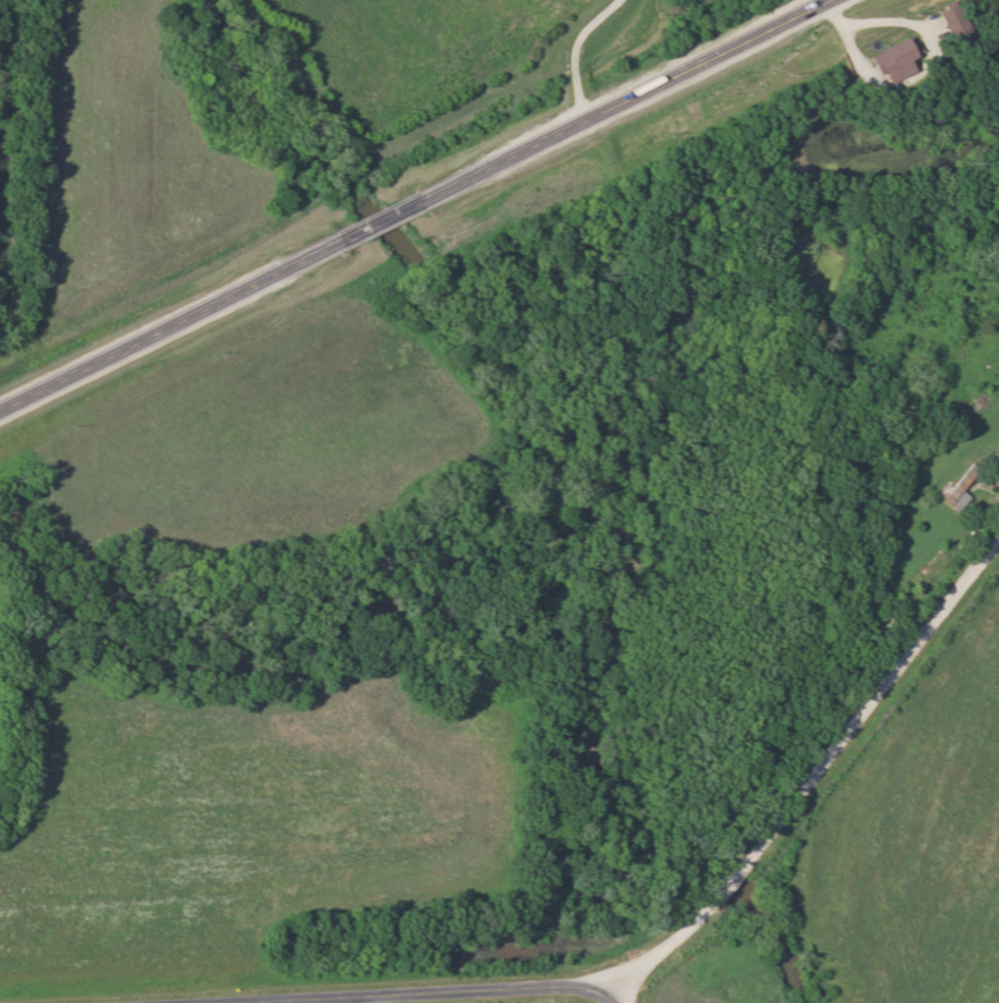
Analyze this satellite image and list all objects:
road: (814, 3)
building: (901, 51)
road: (569, 53)
road: (414, 204)
building: (957, 489)
road: (811, 775)
road: (394, 992)
road: (605, 1000)

